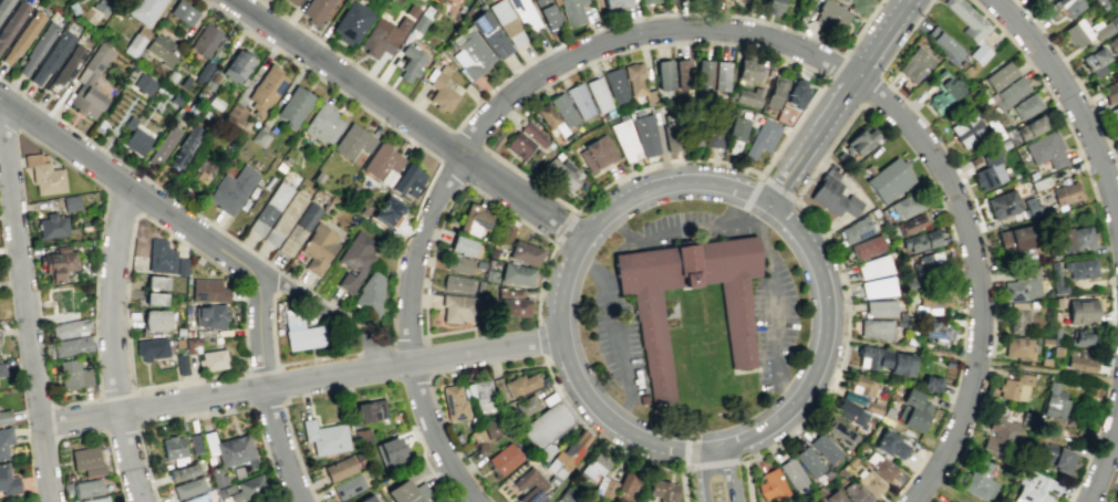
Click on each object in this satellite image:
building: (466, 0)
building: (667, 0)
building: (841, 0)
building: (292, 1)
building: (646, 1)
building: (612, 2)
building: (1100, 3)
building: (3, 6)
building: (103, 6)
building: (858, 6)
building: (1067, 6)
building: (72, 7)
building: (772, 7)
building: (143, 10)
building: (314, 10)
building: (411, 11)
building: (571, 11)
building: (182, 12)
building: (525, 13)
building: (547, 13)
building: (830, 17)
building: (965, 19)
building: (1114, 20)
building: (12, 21)
building: (505, 21)
building: (351, 22)
building: (418, 23)
road: (691, 28)
building: (1084, 30)
building: (489, 33)
building: (22, 36)
building: (382, 36)
building: (205, 40)
road: (683, 42)
building: (1111, 42)
building: (943, 43)
building: (133, 45)
road: (552, 45)
building: (38, 46)
building: (161, 49)
building: (977, 53)
building: (472, 55)
building: (51, 56)
building: (1094, 59)
building: (410, 62)
building: (914, 64)
road: (835, 65)
building: (236, 66)
building: (63, 70)
building: (201, 72)
building: (748, 72)
building: (704, 75)
building: (1000, 75)
building: (665, 76)
building: (682, 76)
building: (721, 76)
building: (210, 79)
road: (1075, 80)
building: (83, 81)
building: (183, 82)
building: (143, 84)
building: (617, 86)
building: (641, 86)
building: (443, 88)
building: (266, 90)
building: (777, 90)
road: (868, 90)
road: (1047, 90)
building: (1109, 90)
building: (1010, 92)
building: (796, 93)
building: (940, 93)
building: (599, 95)
building: (749, 97)
building: (175, 98)
road: (838, 101)
building: (581, 102)
road: (1074, 105)
building: (293, 106)
building: (1026, 106)
building: (191, 108)
road: (912, 108)
building: (565, 109)
building: (235, 113)
building: (1114, 113)
building: (547, 115)
road: (407, 119)
road: (9, 124)
building: (322, 124)
building: (694, 125)
building: (715, 126)
building: (1029, 127)
building: (672, 128)
building: (967, 128)
building: (993, 128)
building: (736, 129)
building: (534, 134)
building: (645, 134)
building: (135, 137)
building: (259, 137)
road: (467, 138)
building: (762, 138)
building: (352, 140)
building: (625, 140)
building: (859, 140)
building: (1002, 143)
building: (162, 144)
building: (518, 145)
building: (184, 147)
building: (1045, 150)
building: (597, 154)
building: (381, 160)
road: (663, 161)
building: (203, 170)
building: (988, 170)
building: (45, 177)
building: (318, 177)
building: (568, 178)
road: (757, 179)
building: (888, 179)
building: (407, 181)
road: (125, 186)
building: (231, 189)
road: (474, 189)
building: (1065, 192)
building: (832, 194)
road: (795, 202)
building: (72, 203)
building: (911, 203)
building: (1002, 203)
building: (268, 209)
road: (193, 211)
building: (386, 212)
building: (283, 219)
building: (474, 220)
road: (948, 220)
building: (911, 224)
building: (86, 226)
building: (53, 227)
road: (565, 228)
parking lot: (679, 228)
building: (298, 229)
road: (689, 229)
building: (853, 229)
building: (508, 234)
building: (1075, 238)
building: (1013, 239)
building: (920, 241)
building: (463, 247)
building: (867, 247)
building: (318, 249)
road: (128, 250)
building: (526, 253)
road: (96, 258)
building: (164, 259)
building: (354, 259)
building: (927, 261)
building: (454, 263)
building: (58, 264)
building: (873, 266)
building: (1079, 269)
building: (518, 274)
building: (1056, 280)
road: (565, 281)
building: (156, 282)
building: (453, 283)
building: (878, 286)
road: (392, 289)
building: (1019, 289)
building: (208, 291)
building: (370, 294)
building: (61, 299)
building: (155, 299)
building: (934, 299)
road: (24, 302)
building: (456, 306)
building: (514, 307)
building: (880, 308)
road: (772, 310)
building: (1081, 311)
road: (330, 314)
building: (210, 315)
building: (1016, 317)
building: (155, 318)
road: (993, 318)
parking lot: (778, 320)
road: (273, 325)
building: (71, 328)
building: (738, 330)
building: (877, 330)
road: (1111, 330)
building: (179, 331)
building: (936, 331)
building: (203, 333)
building: (301, 333)
building: (189, 334)
road: (963, 334)
road: (621, 336)
parking lot: (615, 338)
building: (1083, 338)
road: (408, 339)
road: (541, 339)
road: (822, 341)
building: (191, 344)
road: (114, 345)
building: (73, 346)
building: (157, 347)
road: (371, 347)
building: (1017, 347)
road: (902, 348)
road: (317, 357)
building: (213, 359)
road: (974, 359)
building: (887, 360)
building: (1079, 360)
building: (182, 364)
building: (1, 369)
road: (245, 370)
road: (1048, 370)
building: (75, 375)
road: (956, 378)
building: (0, 379)
road: (1112, 380)
road: (298, 381)
building: (521, 383)
building: (931, 385)
building: (863, 386)
building: (1014, 386)
road: (265, 388)
road: (114, 395)
building: (483, 396)
building: (853, 397)
building: (549, 399)
building: (1054, 401)
building: (455, 402)
building: (527, 406)
building: (872, 406)
building: (370, 409)
building: (914, 409)
road: (218, 411)
building: (852, 414)
building: (889, 414)
building: (6, 417)
building: (548, 425)
road: (796, 429)
building: (1049, 429)
road: (122, 431)
building: (838, 431)
road: (1115, 432)
building: (483, 433)
building: (362, 435)
building: (324, 437)
building: (1001, 437)
building: (6, 440)
building: (208, 442)
road: (1091, 442)
building: (195, 443)
building: (890, 445)
road: (108, 448)
road: (710, 448)
building: (173, 449)
building: (234, 450)
building: (827, 450)
building: (391, 451)
building: (546, 451)
road: (296, 452)
road: (266, 454)
building: (569, 454)
road: (1105, 454)
building: (1057, 457)
building: (208, 459)
building: (504, 460)
building: (86, 461)
road: (578, 462)
road: (145, 463)
building: (811, 464)
road: (695, 466)
building: (339, 468)
building: (883, 469)
building: (182, 471)
road: (913, 472)
building: (593, 473)
road: (724, 473)
road: (702, 474)
building: (794, 474)
building: (68, 477)
building: (216, 477)
building: (863, 477)
building: (528, 480)
building: (9, 481)
building: (979, 481)
road: (682, 483)
building: (66, 485)
building: (187, 487)
building: (346, 487)
building: (604, 487)
building: (772, 487)
building: (86, 488)
building: (1034, 488)
building: (247, 489)
building: (224, 490)
building: (664, 490)
building: (406, 491)
building: (572, 492)
building: (1116, 492)
building: (852, 493)
building: (530, 495)
building: (834, 496)
building: (197, 498)
building: (96, 499)
building: (366, 499)
building: (821, 501)

